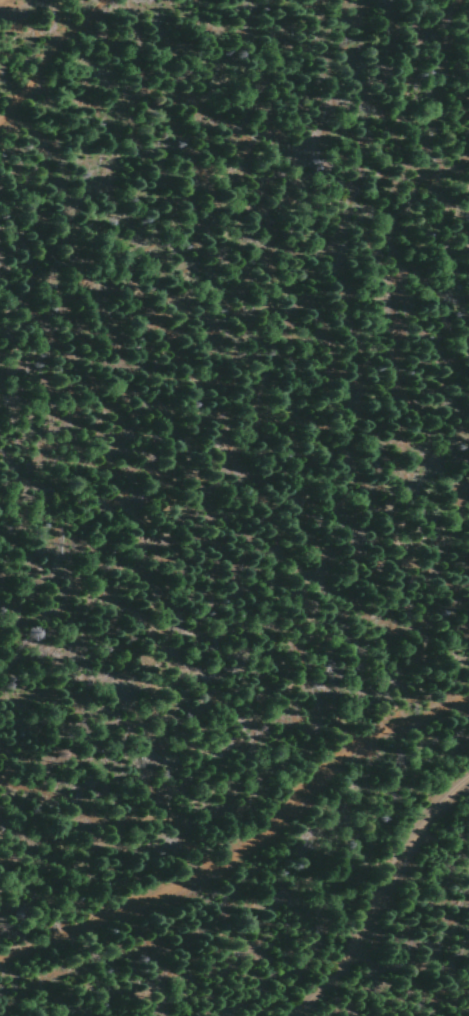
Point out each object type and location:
road: (249, 852)
road: (380, 896)

